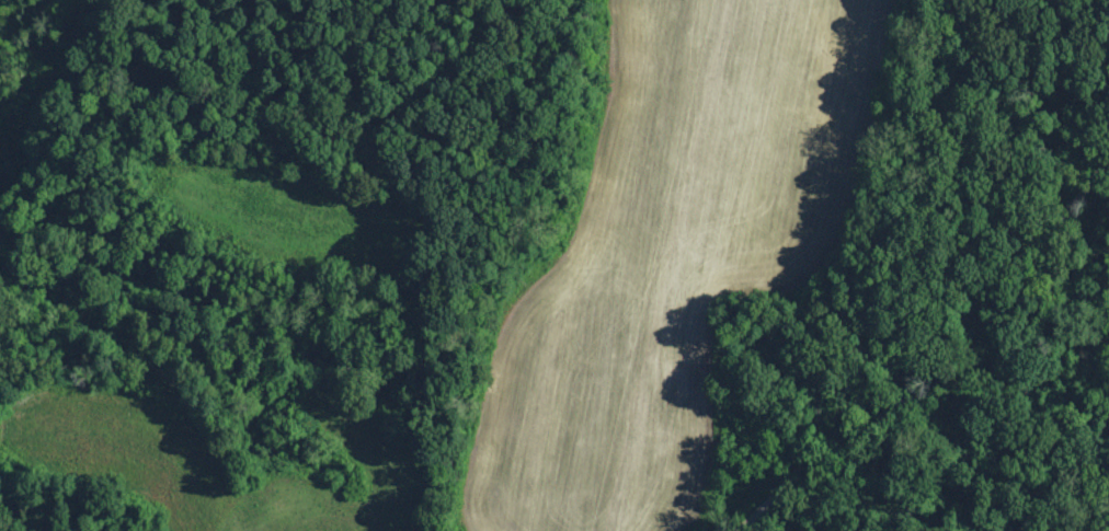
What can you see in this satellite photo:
road: (930, 355)

